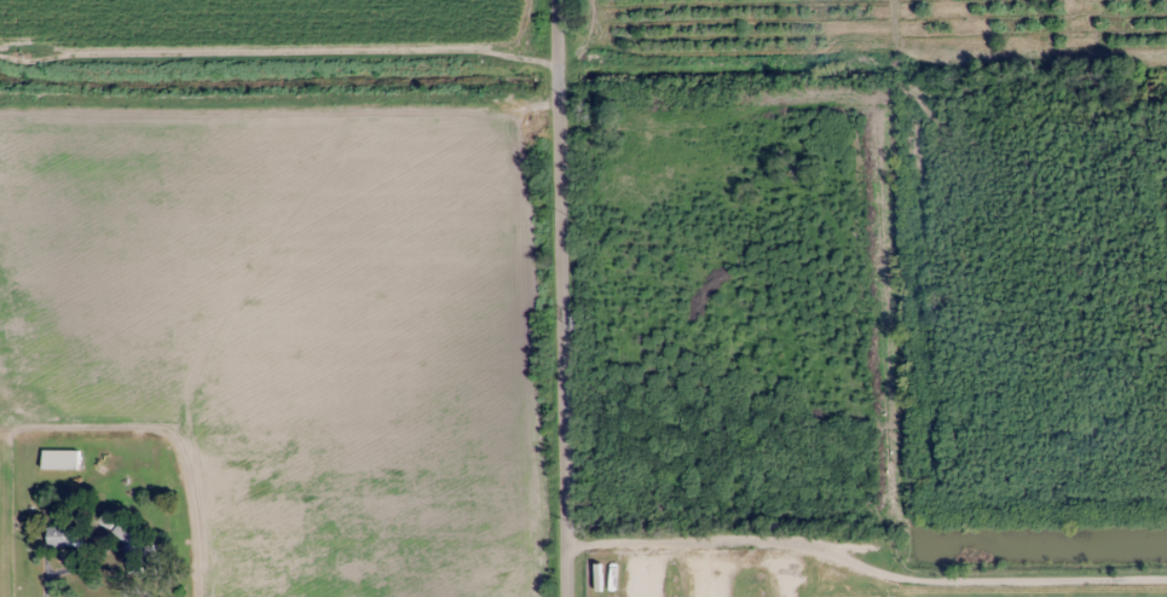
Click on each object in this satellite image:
road: (562, 298)
building: (60, 458)
building: (109, 518)
road: (870, 533)
building: (64, 535)
building: (135, 539)

